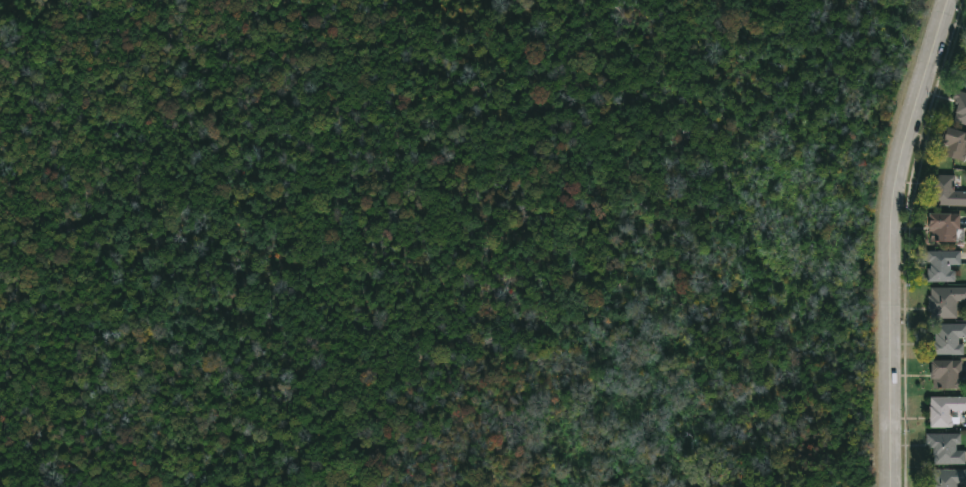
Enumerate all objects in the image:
building: (964, 77)
building: (961, 105)
building: (955, 141)
building: (948, 190)
building: (947, 226)
road: (886, 239)
building: (943, 264)
building: (946, 301)
building: (950, 338)
building: (948, 374)
building: (945, 410)
building: (946, 449)
building: (948, 478)

